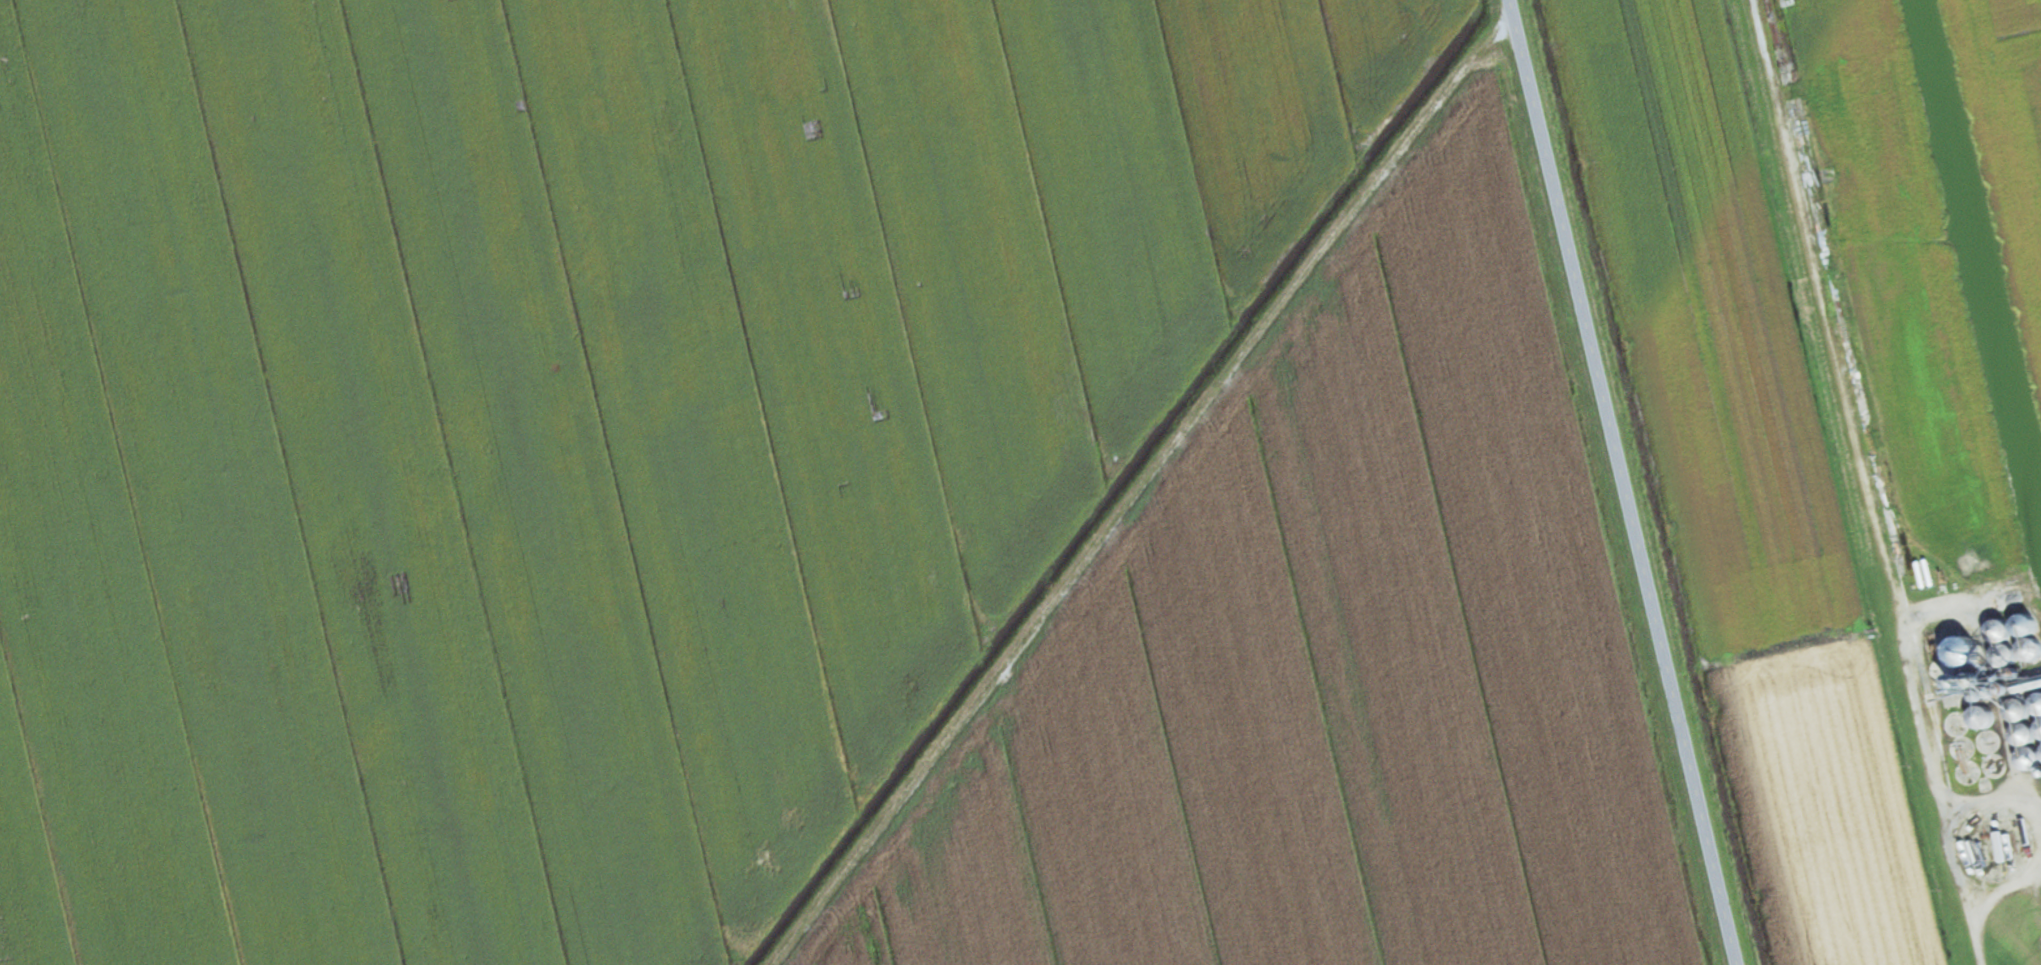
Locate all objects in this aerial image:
crop: (573, 428)
road: (1857, 448)
road: (1614, 482)
road: (1131, 489)
building: (2025, 627)
building: (2001, 633)
crop: (1323, 655)
building: (2040, 681)
road: (2036, 865)
road: (1959, 877)
road: (1997, 878)

